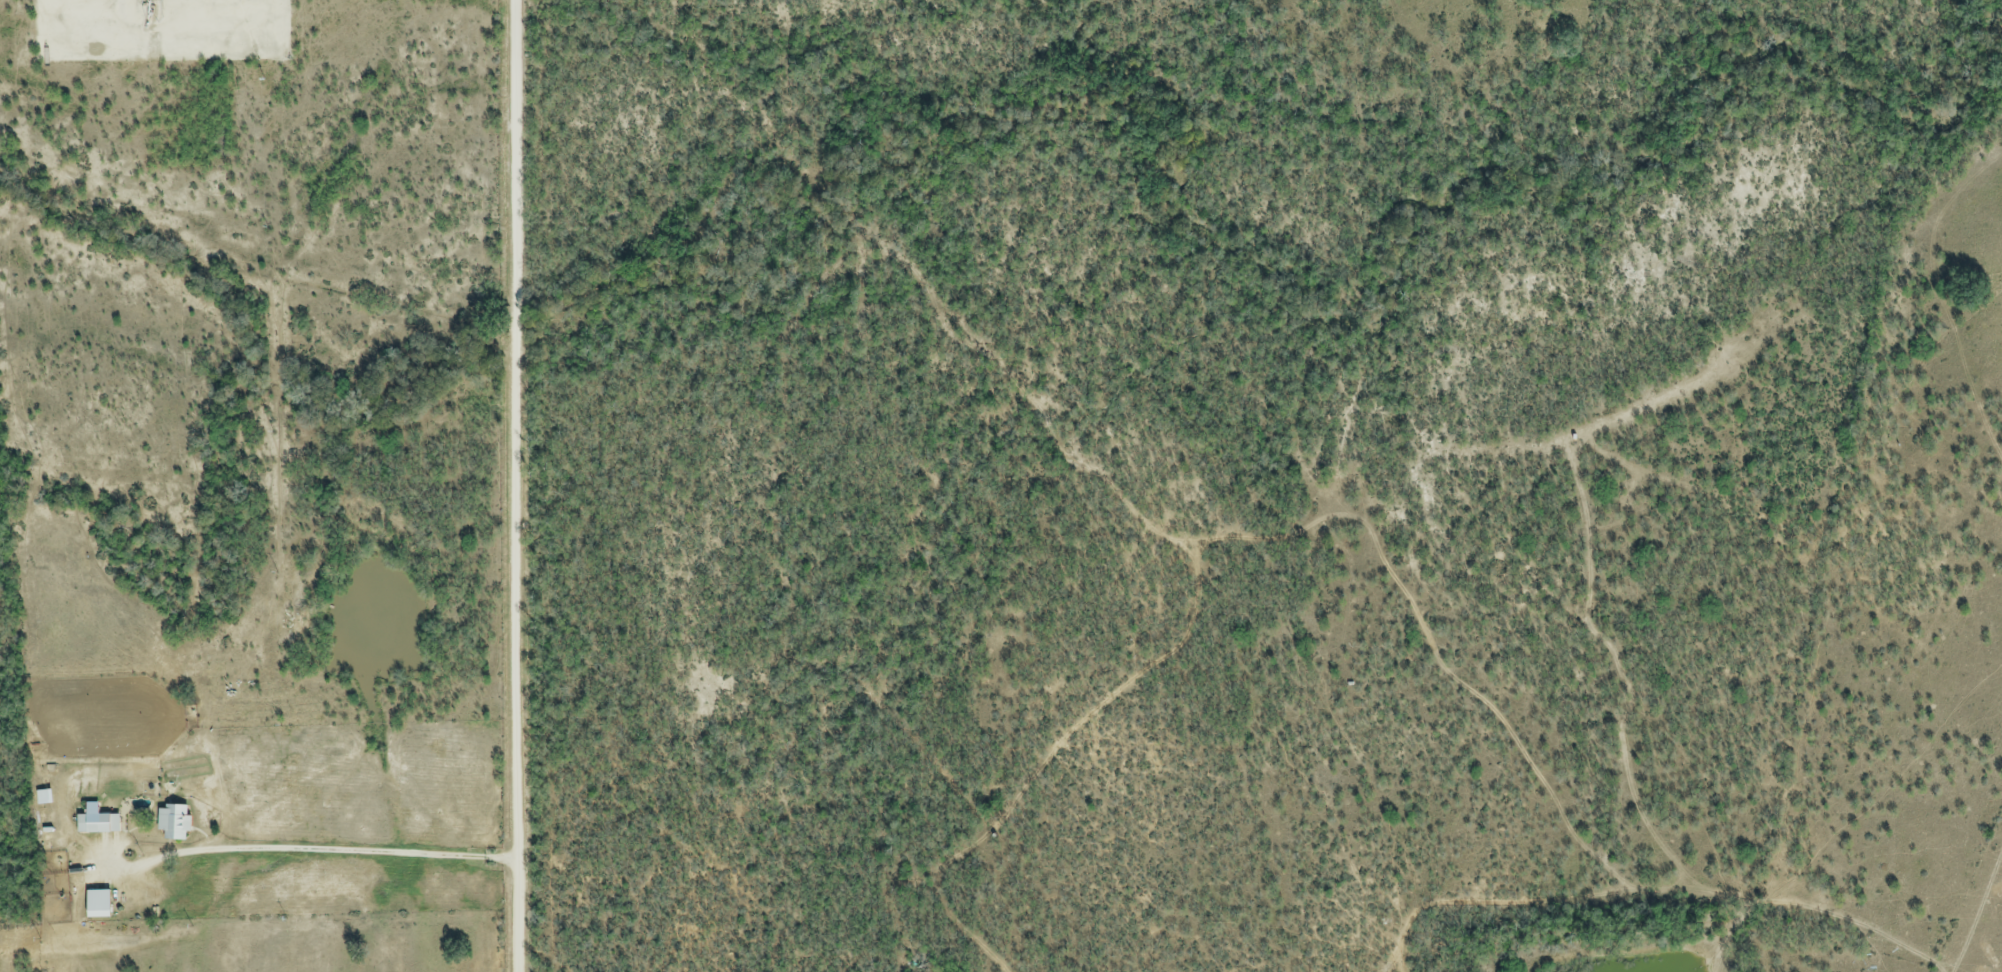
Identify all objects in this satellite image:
road: (90, 21)
road: (518, 485)
building: (171, 823)
building: (95, 824)
road: (309, 842)

